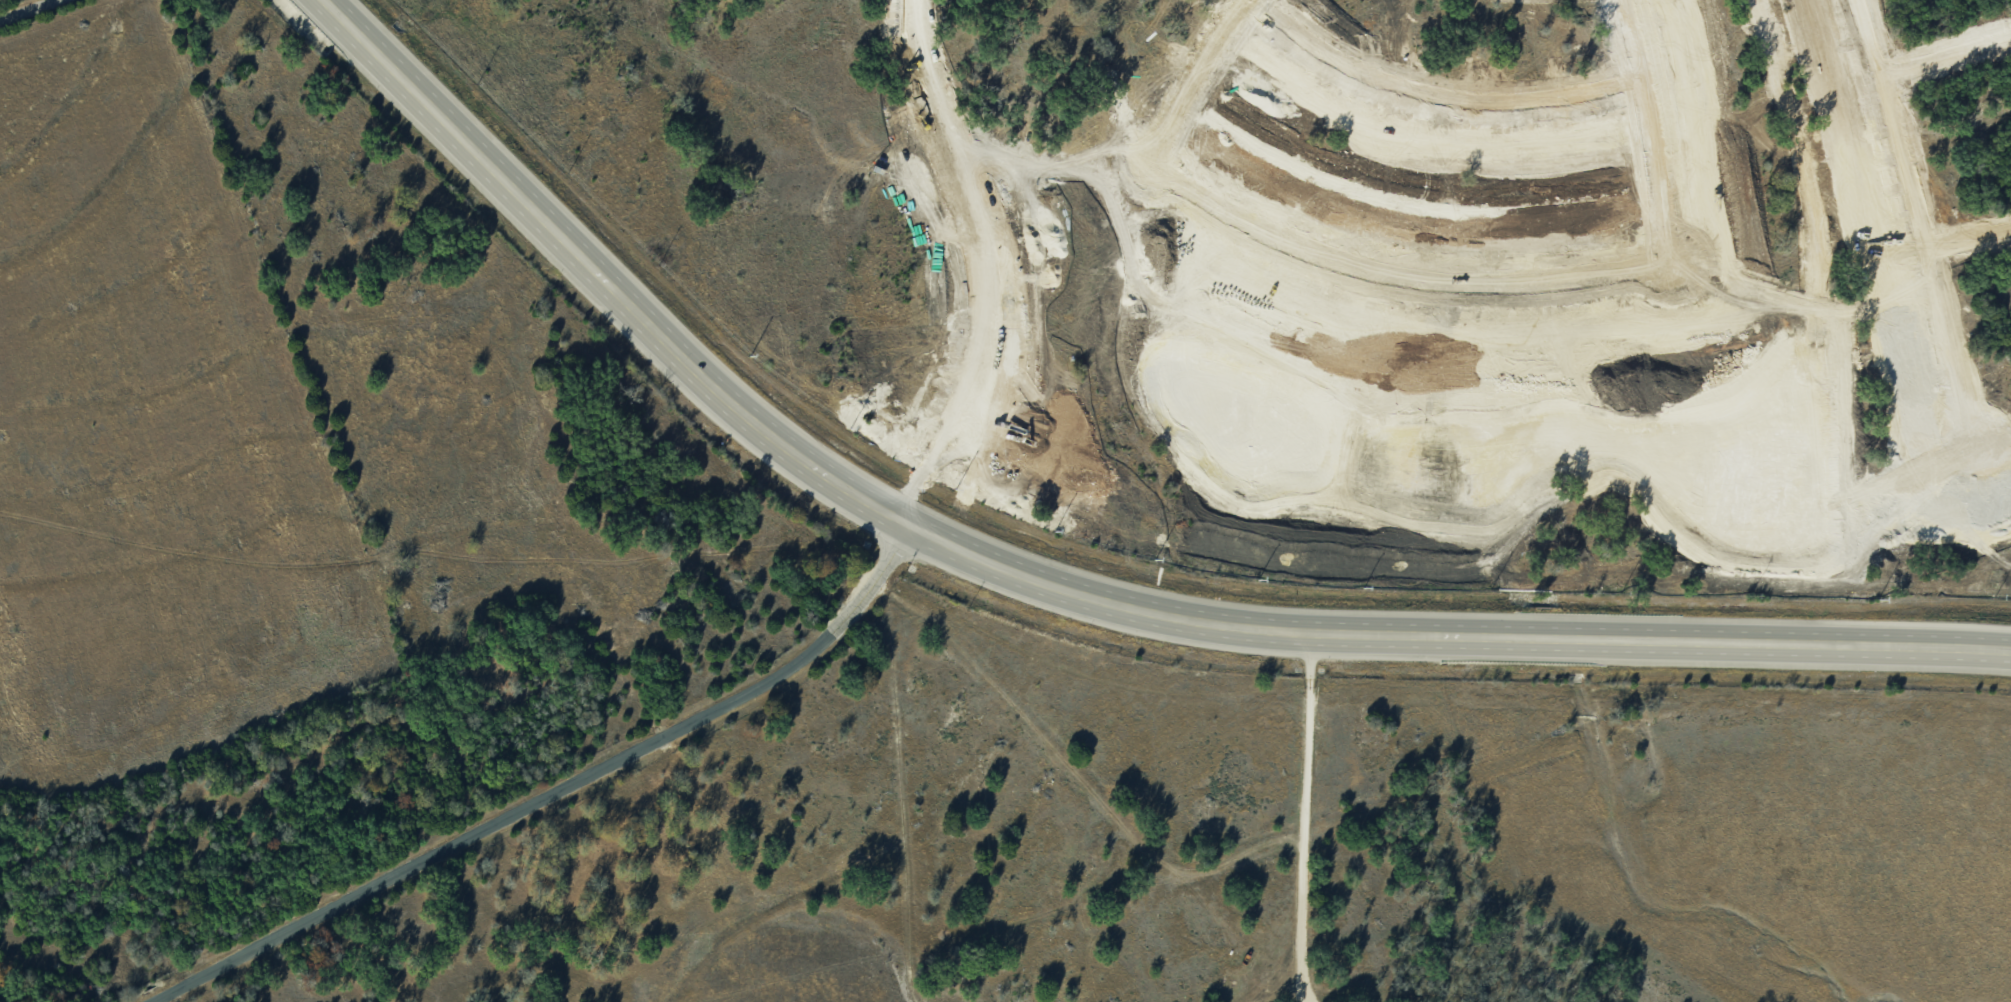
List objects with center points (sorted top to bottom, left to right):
road: (1279, 1)
park: (6, 2)
road: (29, 11)
road: (1881, 36)
road: (1624, 38)
road: (1949, 56)
road: (924, 71)
road: (1209, 76)
road: (1442, 93)
road: (955, 148)
road: (1915, 161)
road: (1648, 169)
road: (1923, 238)
road: (1969, 242)
road: (1438, 278)
road: (1964, 347)
road: (1847, 360)
road: (1557, 391)
road: (1062, 588)
road: (560, 793)
road: (1309, 818)

